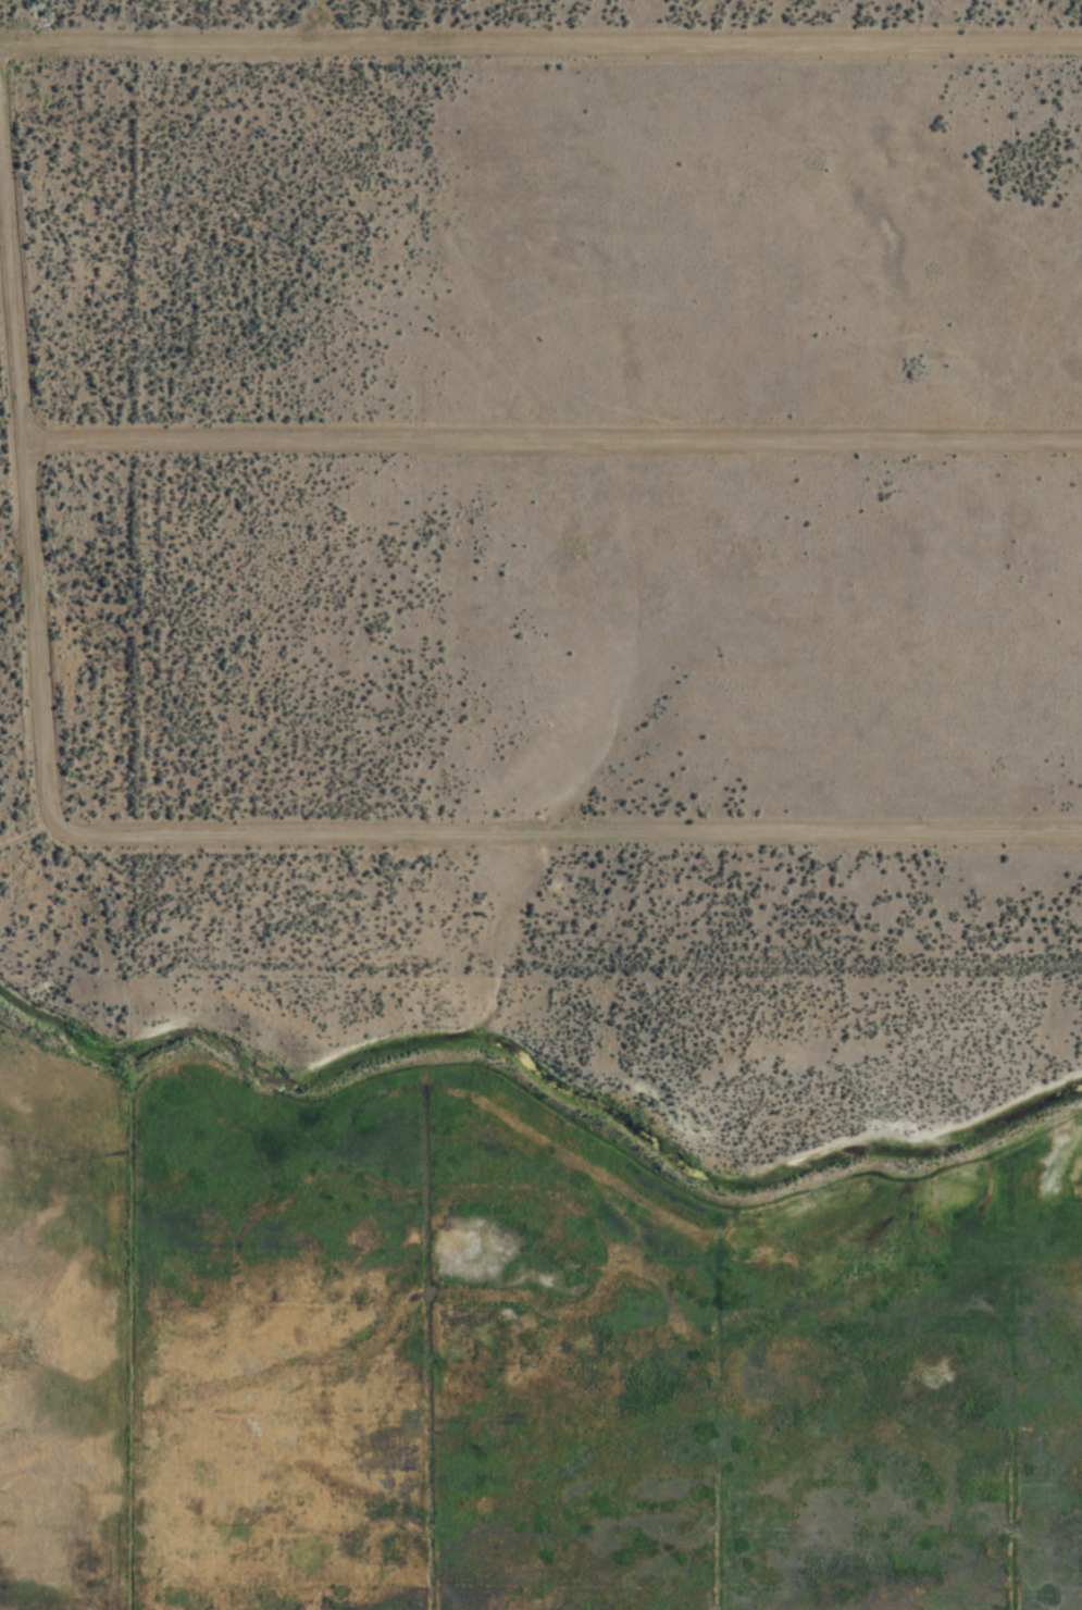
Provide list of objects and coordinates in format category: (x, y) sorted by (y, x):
road: (540, 47)
road: (555, 447)
road: (29, 453)
road: (569, 838)

